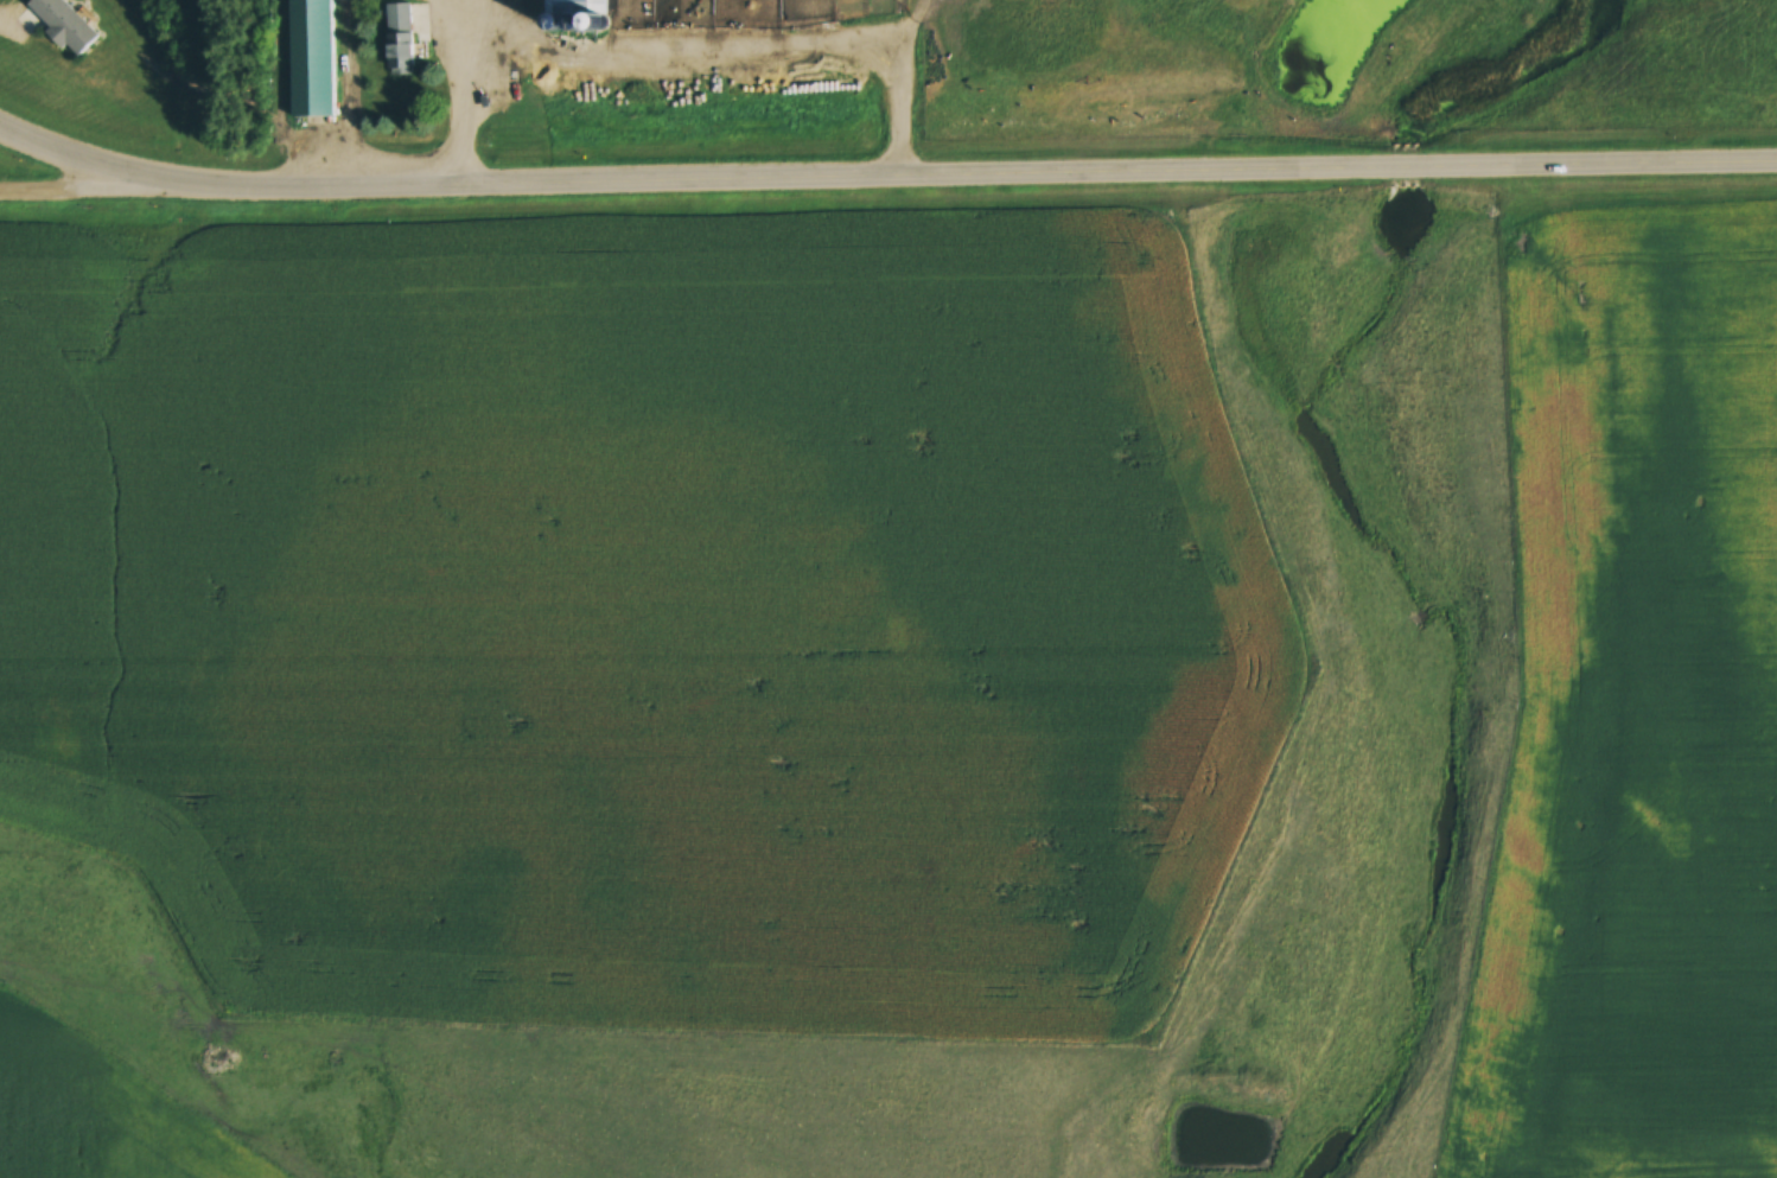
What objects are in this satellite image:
building: (567, 6)
building: (68, 24)
building: (403, 38)
building: (316, 65)
road: (102, 171)
road: (994, 182)
road: (106, 195)

